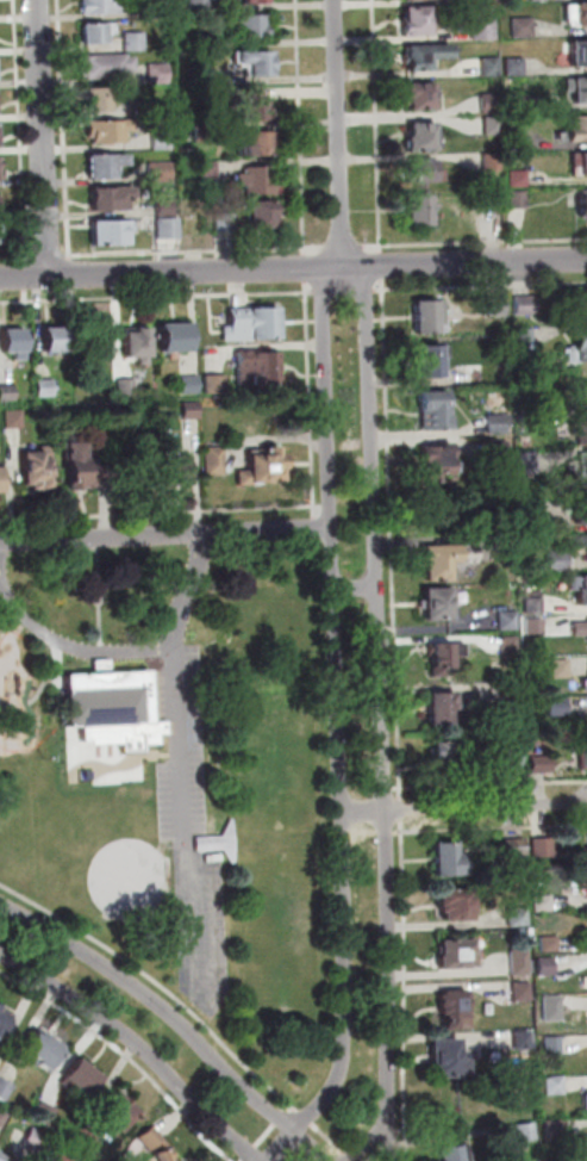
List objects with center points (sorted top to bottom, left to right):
building: (536, 0)
building: (258, 2)
building: (202, 5)
building: (102, 7)
building: (162, 10)
building: (575, 11)
building: (477, 18)
building: (418, 23)
building: (251, 26)
building: (520, 26)
building: (99, 33)
building: (206, 42)
building: (137, 43)
building: (575, 49)
building: (418, 60)
building: (486, 62)
building: (256, 63)
building: (513, 66)
building: (111, 67)
building: (162, 73)
building: (204, 77)
building: (574, 87)
building: (414, 94)
building: (101, 101)
building: (514, 101)
building: (489, 103)
building: (255, 107)
building: (145, 108)
road: (374, 125)
building: (491, 125)
road: (19, 128)
road: (63, 128)
building: (573, 129)
road: (302, 130)
building: (112, 131)
building: (208, 134)
road: (339, 134)
building: (416, 134)
road: (45, 138)
building: (164, 139)
building: (516, 142)
building: (257, 147)
building: (491, 161)
building: (576, 161)
building: (108, 167)
building: (0, 168)
building: (417, 168)
building: (211, 170)
building: (163, 172)
building: (516, 178)
building: (258, 181)
building: (492, 198)
building: (517, 199)
building: (114, 200)
building: (1, 201)
building: (577, 205)
building: (413, 207)
building: (168, 209)
building: (264, 217)
building: (227, 222)
building: (170, 228)
building: (1, 229)
building: (112, 235)
road: (475, 241)
road: (341, 246)
road: (187, 252)
road: (46, 255)
road: (14, 256)
road: (383, 265)
road: (307, 267)
road: (293, 269)
road: (482, 286)
road: (348, 290)
road: (158, 296)
building: (526, 306)
building: (498, 308)
building: (583, 311)
building: (432, 319)
building: (255, 325)
building: (526, 337)
building: (177, 340)
building: (58, 341)
building: (17, 343)
building: (140, 346)
building: (580, 350)
building: (432, 362)
building: (258, 370)
building: (217, 385)
building: (191, 386)
building: (579, 386)
building: (129, 387)
building: (48, 389)
building: (8, 393)
building: (193, 411)
building: (437, 412)
building: (531, 418)
building: (15, 420)
building: (499, 426)
building: (581, 429)
building: (501, 451)
building: (216, 460)
building: (437, 462)
building: (529, 464)
building: (80, 468)
building: (110, 468)
building: (39, 470)
building: (264, 470)
building: (176, 471)
building: (585, 471)
building: (1, 483)
road: (199, 486)
road: (270, 508)
building: (531, 513)
building: (582, 517)
road: (166, 535)
road: (392, 540)
building: (581, 541)
building: (506, 542)
building: (586, 546)
building: (560, 561)
building: (447, 563)
road: (358, 589)
building: (581, 591)
road: (99, 595)
building: (535, 603)
building: (439, 607)
building: (510, 621)
building: (536, 626)
building: (581, 628)
road: (65, 644)
building: (512, 646)
building: (445, 658)
road: (56, 665)
building: (562, 669)
building: (583, 683)
road: (40, 689)
building: (513, 695)
building: (558, 708)
building: (111, 709)
building: (448, 710)
road: (385, 724)
road: (342, 729)
building: (449, 755)
building: (585, 756)
road: (175, 758)
building: (513, 758)
building: (544, 764)
park: (170, 775)
road: (495, 784)
road: (466, 808)
road: (405, 811)
parking lot: (192, 826)
road: (495, 826)
building: (218, 845)
building: (517, 845)
building: (548, 848)
building: (448, 863)
park: (120, 870)
building: (544, 904)
building: (456, 908)
building: (520, 918)
building: (551, 944)
building: (458, 957)
building: (522, 964)
building: (548, 967)
road: (160, 985)
road: (406, 991)
building: (524, 992)
building: (554, 1010)
building: (455, 1013)
building: (5, 1018)
road: (173, 1020)
building: (524, 1042)
building: (554, 1043)
building: (45, 1047)
road: (136, 1048)
road: (125, 1055)
building: (447, 1062)
building: (83, 1074)
building: (556, 1086)
building: (4, 1087)
building: (45, 1109)
building: (113, 1112)
building: (1, 1115)
road: (307, 1117)
building: (554, 1129)
building: (529, 1130)
road: (267, 1132)
building: (36, 1134)
building: (86, 1134)
road: (331, 1140)
road: (392, 1143)
building: (152, 1144)
road: (405, 1144)
road: (394, 1147)
building: (65, 1153)
road: (379, 1154)
building: (454, 1154)
road: (349, 1156)
building: (1, 1160)

